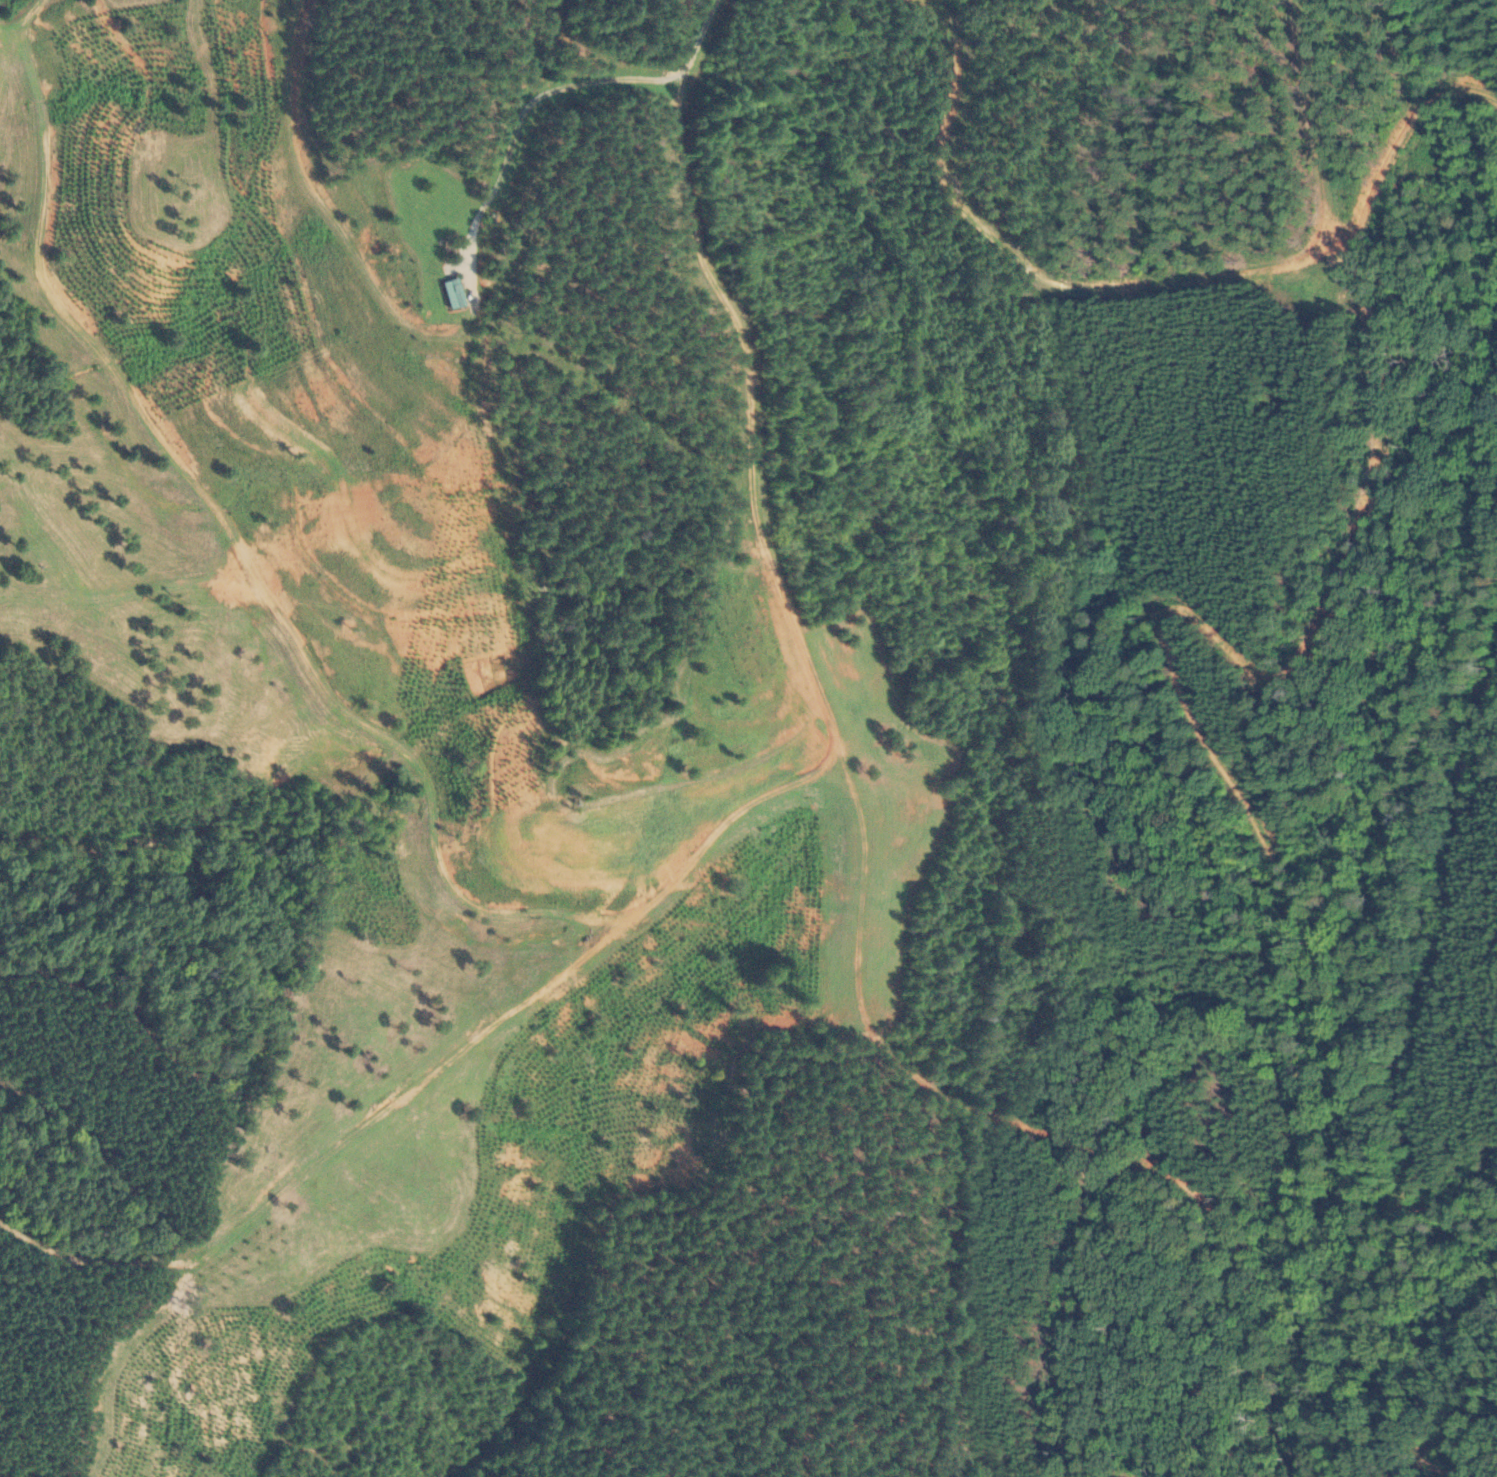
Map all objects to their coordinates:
road: (543, 93)
building: (444, 290)

